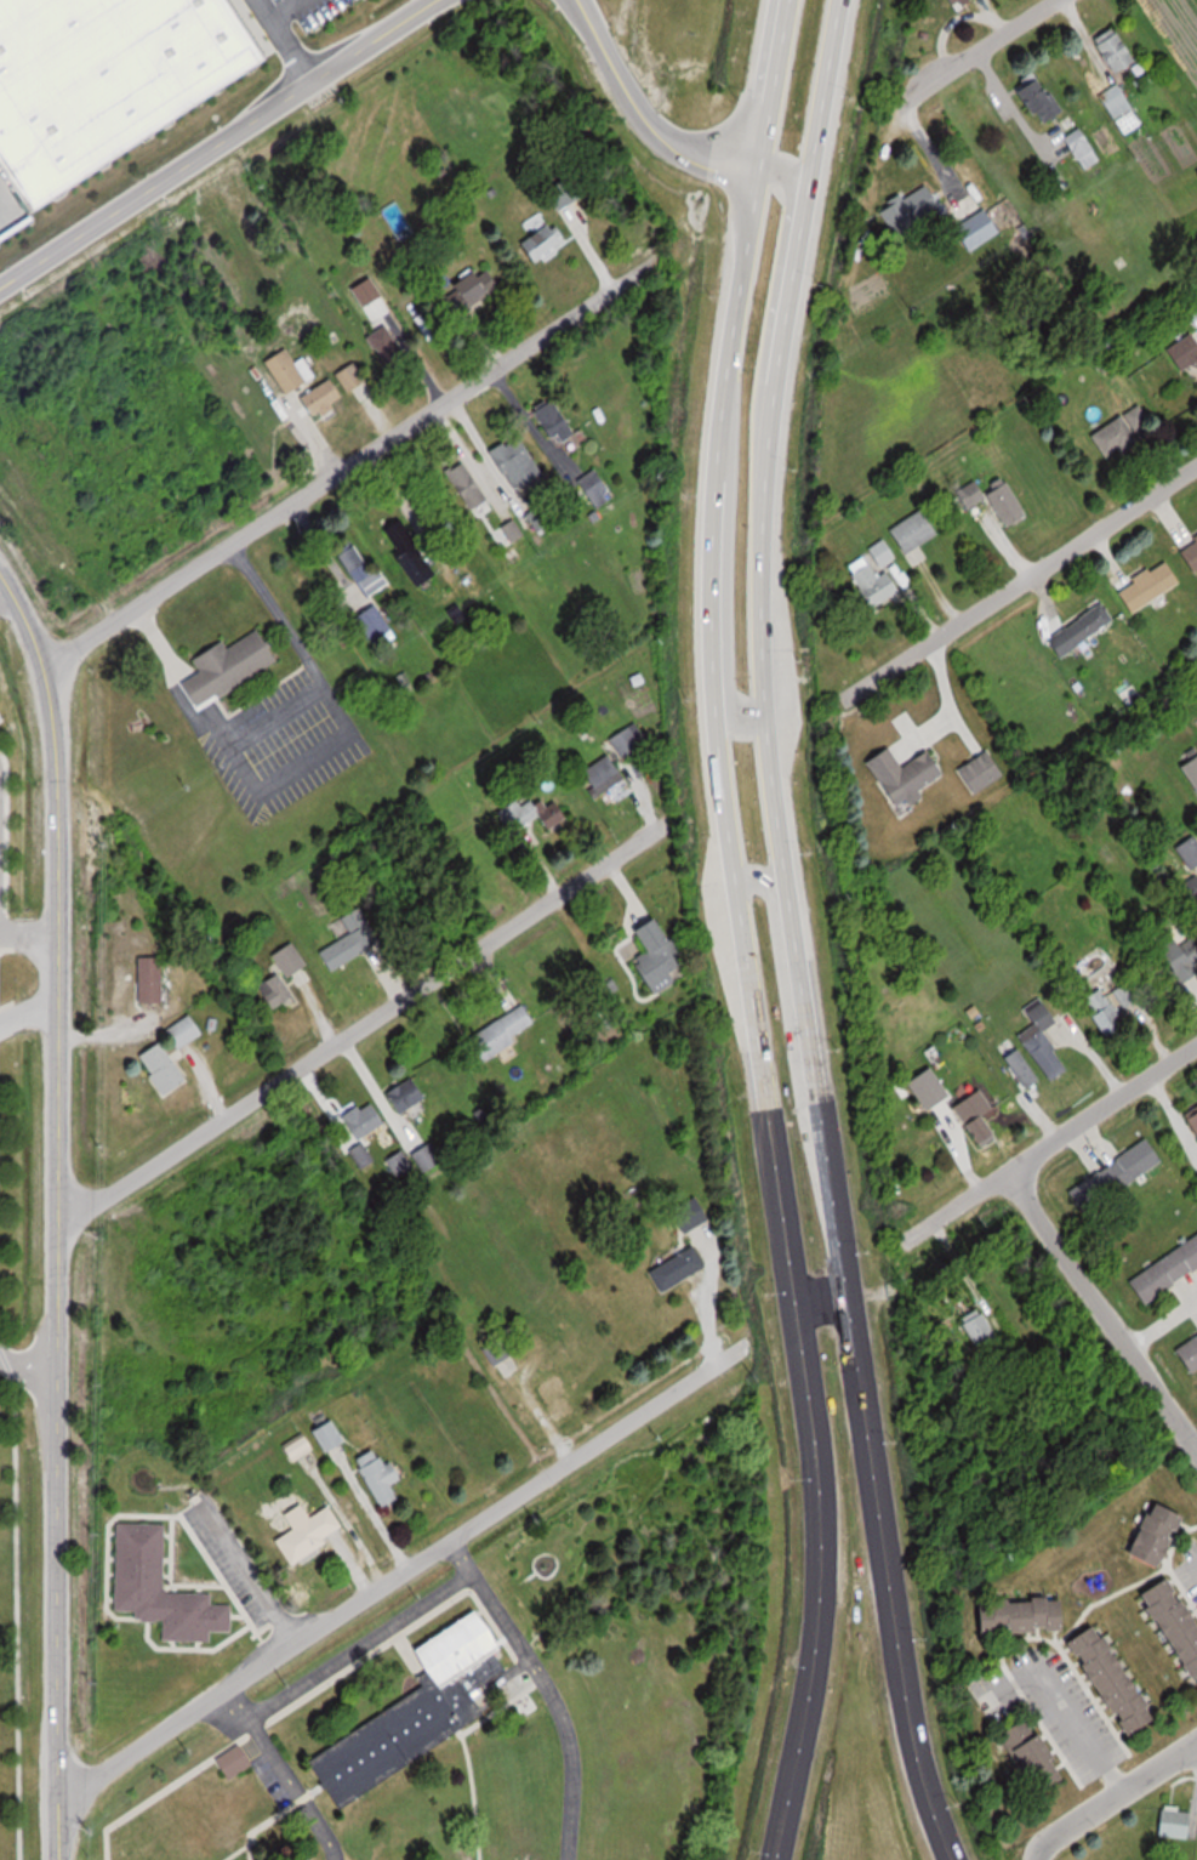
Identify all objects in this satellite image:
building: (961, 2)
road: (275, 35)
building: (1117, 50)
road: (965, 55)
building: (106, 79)
building: (1041, 99)
road: (634, 120)
road: (204, 133)
building: (1081, 142)
building: (566, 193)
building: (913, 209)
building: (979, 228)
road: (788, 235)
building: (545, 241)
building: (472, 289)
building: (388, 346)
building: (1185, 351)
building: (290, 369)
building: (334, 388)
building: (557, 421)
building: (1124, 431)
road: (361, 451)
building: (519, 462)
building: (468, 487)
building: (597, 488)
building: (997, 500)
building: (541, 517)
building: (917, 529)
building: (514, 530)
building: (1191, 552)
building: (363, 569)
building: (876, 574)
road: (1032, 574)
building: (1158, 580)
road: (5, 592)
building: (372, 622)
building: (1083, 628)
building: (232, 665)
building: (1129, 688)
road: (729, 706)
building: (629, 738)
building: (981, 770)
building: (605, 773)
building: (907, 775)
building: (534, 813)
building: (1190, 851)
road: (777, 903)
road: (740, 931)
road: (791, 933)
road: (29, 934)
building: (352, 937)
building: (660, 952)
building: (1182, 957)
building: (291, 959)
building: (153, 978)
building: (275, 990)
building: (1130, 995)
road: (28, 1011)
building: (1106, 1014)
road: (363, 1019)
building: (186, 1030)
building: (505, 1030)
building: (1045, 1051)
building: (165, 1068)
building: (919, 1082)
building: (407, 1093)
building: (365, 1119)
building: (1193, 1121)
building: (980, 1122)
road: (1058, 1133)
building: (363, 1155)
building: (428, 1156)
building: (400, 1162)
building: (1117, 1176)
road: (58, 1211)
building: (692, 1213)
building: (679, 1268)
building: (1167, 1272)
road: (820, 1304)
road: (1101, 1309)
building: (980, 1329)
building: (498, 1352)
building: (1190, 1354)
road: (27, 1369)
building: (560, 1397)
building: (331, 1437)
building: (298, 1446)
building: (382, 1477)
building: (1163, 1534)
building: (312, 1535)
road: (395, 1579)
building: (163, 1587)
building: (1028, 1615)
building: (1179, 1616)
building: (1119, 1680)
road: (540, 1691)
building: (418, 1711)
building: (1036, 1756)
building: (235, 1761)
road: (1111, 1797)
building: (1176, 1822)

